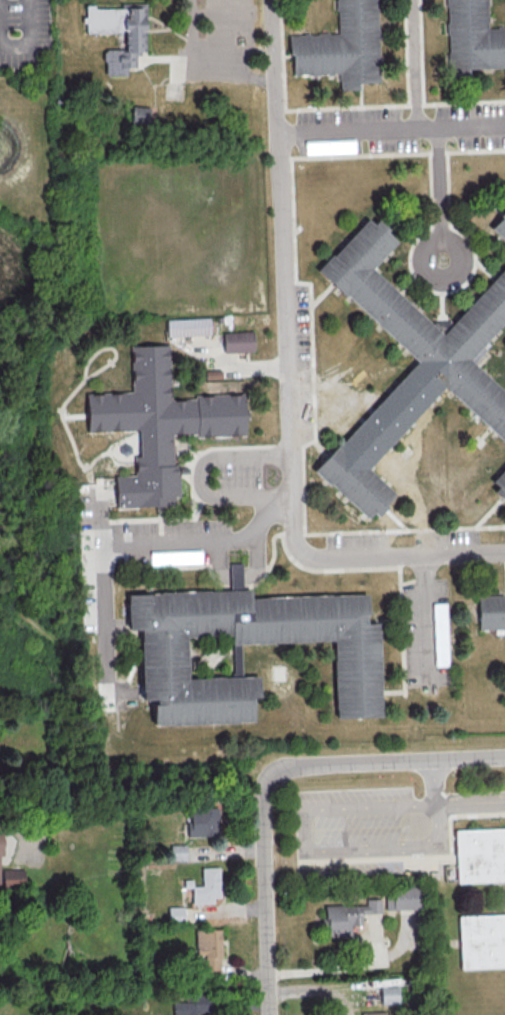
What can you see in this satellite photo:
building: (469, 35)
building: (134, 40)
building: (346, 44)
road: (15, 45)
road: (413, 64)
road: (204, 67)
building: (139, 114)
road: (391, 130)
building: (329, 146)
road: (439, 194)
building: (499, 226)
building: (183, 326)
building: (237, 341)
building: (443, 374)
road: (289, 377)
road: (61, 406)
road: (72, 414)
building: (155, 424)
road: (245, 475)
building: (500, 483)
road: (96, 517)
road: (123, 545)
building: (175, 557)
building: (234, 575)
building: (491, 611)
road: (424, 620)
building: (440, 634)
building: (190, 658)
road: (87, 755)
road: (374, 761)
building: (202, 821)
parking lot: (351, 831)
road: (20, 840)
building: (1, 843)
parking lot: (29, 847)
road: (316, 849)
building: (177, 852)
road: (455, 857)
building: (481, 857)
road: (420, 858)
building: (11, 878)
building: (206, 886)
building: (401, 897)
road: (266, 906)
building: (348, 916)
building: (482, 942)
road: (456, 944)
building: (209, 948)
building: (388, 994)
building: (193, 1006)
building: (373, 1013)

